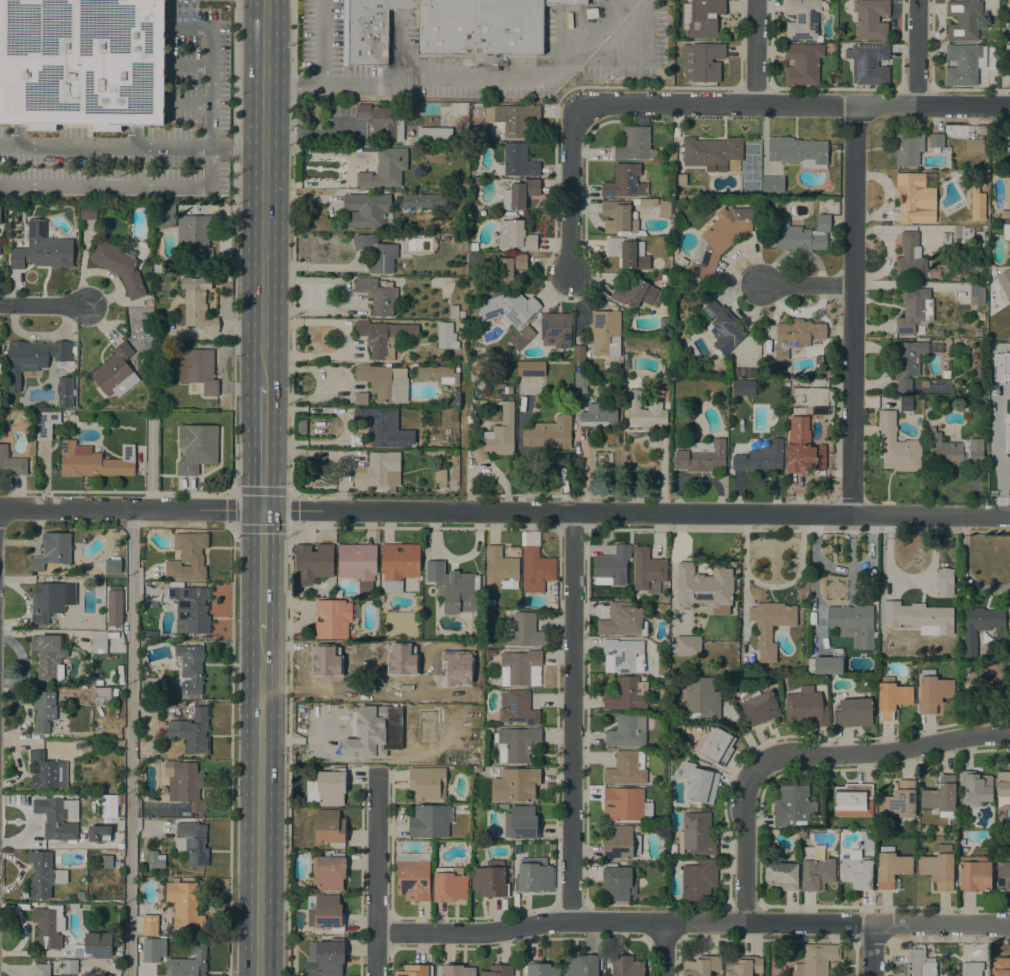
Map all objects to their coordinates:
building: (702, 17)
building: (802, 18)
building: (870, 18)
building: (963, 20)
building: (446, 27)
road: (189, 28)
parking lot: (321, 35)
road: (293, 46)
road: (754, 52)
road: (917, 52)
building: (1009, 58)
building: (702, 61)
building: (82, 63)
building: (802, 63)
building: (869, 63)
building: (964, 64)
road: (188, 67)
road: (233, 73)
road: (450, 80)
road: (209, 88)
road: (294, 91)
road: (189, 103)
road: (795, 104)
building: (512, 117)
building: (381, 121)
parking lot: (140, 129)
building: (434, 133)
building: (936, 140)
building: (634, 144)
building: (1008, 144)
building: (975, 145)
road: (104, 147)
road: (236, 147)
building: (908, 148)
building: (711, 151)
building: (798, 152)
building: (516, 161)
building: (385, 168)
building: (668, 175)
building: (679, 179)
building: (961, 180)
building: (625, 182)
building: (772, 184)
road: (124, 187)
road: (572, 188)
road: (263, 191)
building: (1007, 193)
building: (519, 194)
building: (909, 198)
building: (421, 201)
building: (645, 202)
building: (974, 206)
building: (366, 208)
building: (664, 208)
building: (87, 212)
building: (1005, 213)
building: (166, 215)
building: (619, 218)
building: (976, 228)
building: (676, 229)
building: (967, 232)
building: (1006, 233)
building: (515, 235)
building: (802, 235)
building: (194, 237)
building: (459, 237)
building: (946, 238)
building: (718, 240)
building: (473, 246)
building: (41, 248)
building: (377, 252)
building: (628, 252)
building: (911, 258)
building: (682, 261)
road: (311, 265)
building: (119, 267)
building: (158, 267)
building: (509, 267)
building: (658, 277)
road: (809, 284)
building: (1003, 284)
building: (632, 292)
building: (976, 294)
building: (378, 295)
road: (350, 300)
road: (43, 304)
building: (508, 308)
road: (853, 309)
building: (914, 309)
building: (195, 311)
building: (453, 312)
building: (981, 316)
building: (166, 318)
building: (722, 327)
building: (555, 330)
building: (605, 333)
building: (446, 335)
building: (796, 335)
building: (383, 337)
building: (521, 337)
building: (1009, 349)
building: (578, 354)
building: (625, 356)
building: (973, 356)
building: (33, 358)
building: (437, 360)
building: (997, 361)
building: (906, 363)
building: (529, 368)
building: (198, 370)
building: (115, 372)
building: (741, 372)
building: (437, 374)
building: (945, 374)
building: (581, 381)
building: (383, 382)
building: (922, 382)
building: (487, 384)
building: (743, 388)
building: (507, 390)
building: (64, 392)
building: (830, 395)
building: (360, 398)
building: (905, 404)
building: (964, 406)
building: (819, 411)
building: (643, 412)
building: (68, 414)
building: (450, 415)
building: (598, 415)
building: (1009, 419)
building: (918, 422)
building: (45, 424)
building: (383, 427)
building: (500, 433)
building: (548, 433)
building: (355, 439)
building: (896, 445)
road: (262, 446)
building: (196, 447)
building: (802, 448)
building: (952, 448)
building: (478, 455)
building: (701, 456)
building: (760, 458)
building: (93, 460)
building: (11, 462)
road: (150, 464)
building: (378, 470)
road: (583, 474)
building: (439, 476)
road: (697, 478)
road: (288, 492)
traffic signals: (262, 510)
road: (504, 511)
building: (52, 549)
building: (187, 557)
building: (313, 561)
building: (356, 561)
building: (112, 564)
building: (398, 564)
building: (534, 564)
building: (612, 565)
building: (499, 569)
road: (261, 571)
building: (647, 571)
building: (943, 581)
building: (703, 586)
building: (453, 587)
building: (46, 601)
building: (491, 602)
building: (114, 605)
building: (190, 609)
building: (923, 617)
building: (331, 619)
building: (622, 620)
building: (853, 623)
building: (769, 625)
building: (982, 629)
building: (525, 631)
building: (143, 634)
building: (98, 642)
building: (687, 646)
building: (625, 654)
building: (48, 656)
building: (826, 663)
building: (519, 666)
building: (190, 668)
building: (989, 677)
building: (100, 682)
building: (121, 682)
building: (166, 690)
building: (932, 691)
building: (626, 694)
building: (101, 695)
building: (702, 697)
building: (891, 697)
building: (758, 706)
building: (806, 707)
building: (517, 708)
building: (43, 710)
building: (418, 711)
building: (853, 713)
road: (570, 716)
building: (192, 730)
building: (489, 730)
building: (627, 731)
building: (386, 739)
road: (130, 742)
building: (516, 744)
building: (714, 745)
road: (230, 750)
road: (287, 750)
road: (880, 751)
building: (624, 769)
building: (47, 772)
building: (427, 783)
building: (699, 783)
building: (184, 784)
building: (1003, 784)
building: (516, 785)
building: (975, 787)
building: (326, 788)
building: (940, 796)
building: (853, 800)
building: (900, 802)
building: (623, 803)
road: (259, 804)
building: (107, 805)
building: (792, 805)
building: (503, 806)
building: (646, 810)
building: (57, 816)
building: (429, 821)
building: (520, 822)
building: (329, 827)
building: (696, 834)
building: (191, 843)
building: (620, 843)
road: (743, 844)
building: (516, 848)
road: (374, 855)
building: (155, 859)
building: (104, 861)
building: (891, 866)
building: (938, 867)
building: (856, 870)
building: (815, 871)
building: (329, 872)
building: (1002, 873)
building: (43, 874)
building: (974, 874)
building: (534, 875)
building: (413, 876)
building: (780, 876)
building: (490, 879)
building: (698, 880)
building: (618, 882)
building: (448, 885)
building: (80, 894)
building: (73, 906)
building: (184, 906)
building: (153, 910)
building: (324, 912)
road: (790, 924)
building: (149, 925)
building: (48, 927)
road: (472, 932)
building: (93, 946)
building: (152, 949)
road: (662, 949)
road: (873, 951)
road: (375, 954)
building: (324, 958)
building: (816, 959)
building: (189, 962)
building: (919, 963)
building: (582, 965)
building: (625, 966)
building: (700, 966)
building: (742, 966)
building: (69, 967)
building: (999, 967)
building: (539, 969)
building: (971, 969)
building: (41, 970)
building: (414, 970)
building: (455, 970)
building: (497, 970)

